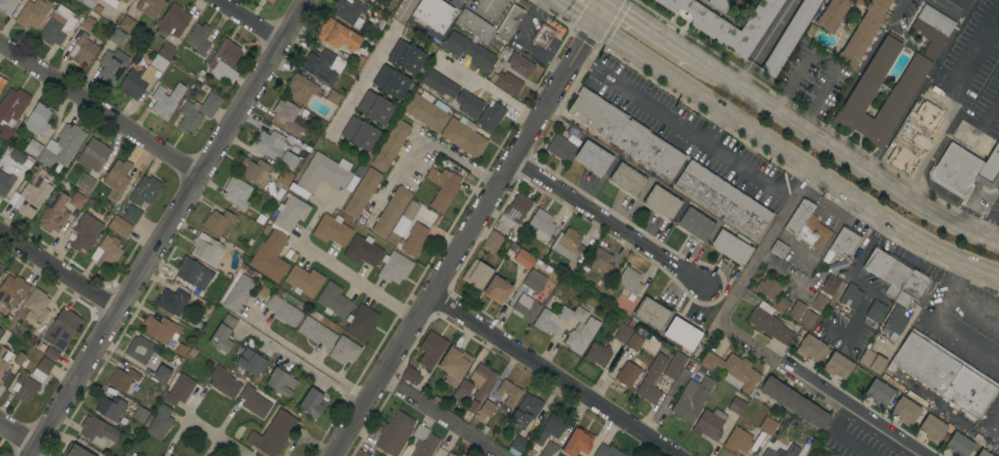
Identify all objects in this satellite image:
building: (853, 0)
building: (123, 1)
building: (269, 1)
road: (606, 1)
building: (111, 2)
building: (86, 3)
building: (959, 3)
building: (719, 4)
building: (7, 6)
road: (489, 6)
building: (149, 7)
road: (947, 9)
building: (348, 11)
building: (32, 13)
road: (574, 13)
building: (433, 14)
building: (832, 15)
building: (173, 21)
road: (249, 21)
building: (86, 22)
building: (509, 22)
building: (726, 23)
building: (126, 24)
building: (474, 26)
building: (57, 27)
road: (650, 30)
building: (862, 33)
building: (338, 35)
building: (542, 35)
building: (789, 36)
building: (116, 37)
building: (198, 38)
road: (764, 43)
road: (526, 44)
building: (83, 49)
building: (468, 50)
building: (165, 51)
building: (406, 56)
building: (224, 61)
building: (158, 63)
road: (823, 63)
building: (519, 64)
building: (112, 65)
building: (322, 66)
road: (369, 66)
road: (707, 67)
road: (860, 70)
road: (974, 70)
building: (911, 77)
building: (135, 82)
building: (391, 82)
building: (506, 82)
building: (1, 83)
building: (440, 85)
road: (920, 86)
building: (301, 88)
road: (491, 91)
building: (333, 97)
building: (165, 100)
building: (467, 104)
building: (210, 105)
building: (375, 108)
road: (100, 109)
building: (11, 111)
building: (427, 111)
building: (597, 115)
building: (491, 116)
building: (189, 117)
building: (287, 117)
building: (38, 120)
road: (676, 127)
road: (712, 128)
road: (980, 128)
building: (359, 133)
building: (463, 136)
building: (912, 136)
road: (421, 138)
building: (634, 139)
building: (390, 145)
building: (62, 146)
building: (32, 147)
building: (560, 147)
building: (274, 149)
building: (970, 150)
road: (926, 154)
building: (93, 155)
building: (17, 156)
building: (592, 157)
road: (792, 158)
building: (662, 159)
road: (857, 167)
building: (955, 170)
building: (254, 171)
building: (990, 171)
building: (325, 175)
building: (117, 178)
building: (284, 178)
road: (788, 178)
building: (627, 179)
building: (5, 183)
building: (85, 183)
building: (145, 192)
building: (236, 192)
building: (361, 193)
building: (444, 193)
building: (32, 195)
building: (723, 199)
building: (77, 200)
building: (89, 202)
building: (661, 202)
building: (407, 210)
building: (514, 210)
building: (391, 211)
building: (54, 213)
building: (130, 213)
building: (290, 213)
building: (261, 218)
road: (605, 221)
building: (220, 223)
building: (541, 224)
building: (695, 224)
building: (118, 226)
building: (806, 226)
road: (168, 227)
building: (331, 230)
road: (473, 231)
building: (85, 232)
building: (414, 239)
building: (844, 241)
building: (492, 242)
building: (568, 245)
building: (731, 247)
building: (206, 249)
building: (778, 249)
building: (362, 250)
building: (106, 253)
building: (270, 257)
building: (523, 259)
building: (600, 261)
building: (0, 265)
building: (837, 265)
building: (394, 267)
building: (0, 269)
road: (59, 269)
building: (887, 270)
building: (193, 273)
building: (476, 274)
road: (858, 275)
road: (957, 276)
building: (630, 280)
building: (303, 281)
road: (357, 281)
building: (533, 283)
building: (830, 284)
building: (767, 287)
building: (912, 287)
building: (12, 290)
building: (497, 290)
building: (238, 292)
building: (850, 296)
building: (333, 300)
building: (172, 302)
building: (818, 303)
building: (782, 305)
building: (36, 306)
building: (525, 307)
road: (975, 308)
building: (796, 310)
building: (283, 311)
building: (875, 311)
building: (651, 313)
building: (551, 319)
building: (808, 319)
building: (895, 320)
building: (361, 322)
building: (768, 324)
building: (160, 329)
building: (580, 331)
building: (316, 332)
building: (59, 333)
building: (622, 333)
building: (223, 334)
building: (682, 334)
building: (886, 334)
road: (952, 334)
building: (636, 339)
road: (749, 341)
building: (810, 348)
building: (139, 349)
building: (180, 349)
building: (431, 349)
building: (344, 350)
road: (305, 354)
building: (597, 354)
building: (19, 359)
building: (250, 361)
building: (872, 361)
building: (454, 365)
building: (674, 365)
building: (837, 365)
building: (4, 367)
building: (41, 368)
building: (733, 370)
building: (943, 373)
building: (162, 374)
building: (627, 374)
building: (409, 375)
road: (550, 377)
building: (122, 379)
building: (481, 380)
building: (651, 380)
building: (224, 382)
building: (281, 382)
building: (892, 382)
building: (24, 386)
building: (463, 388)
building: (179, 390)
building: (508, 392)
building: (878, 393)
building: (691, 399)
building: (254, 402)
building: (312, 403)
building: (794, 403)
building: (472, 406)
building: (736, 406)
building: (109, 407)
building: (484, 410)
building: (526, 410)
building: (905, 411)
building: (140, 414)
road: (437, 419)
building: (159, 422)
building: (709, 424)
building: (767, 425)
road: (997, 426)
building: (551, 428)
building: (932, 428)
building: (97, 431)
road: (18, 433)
building: (272, 434)
building: (394, 434)
road: (841, 434)
road: (216, 438)
building: (737, 440)
building: (423, 442)
building: (577, 443)
building: (518, 444)
building: (958, 445)
building: (549, 450)
building: (75, 451)
building: (606, 451)
park: (360, 453)
building: (769, 453)
building: (982, 453)
building: (162, 454)
building: (450, 454)
building: (170, 455)
building: (463, 455)

